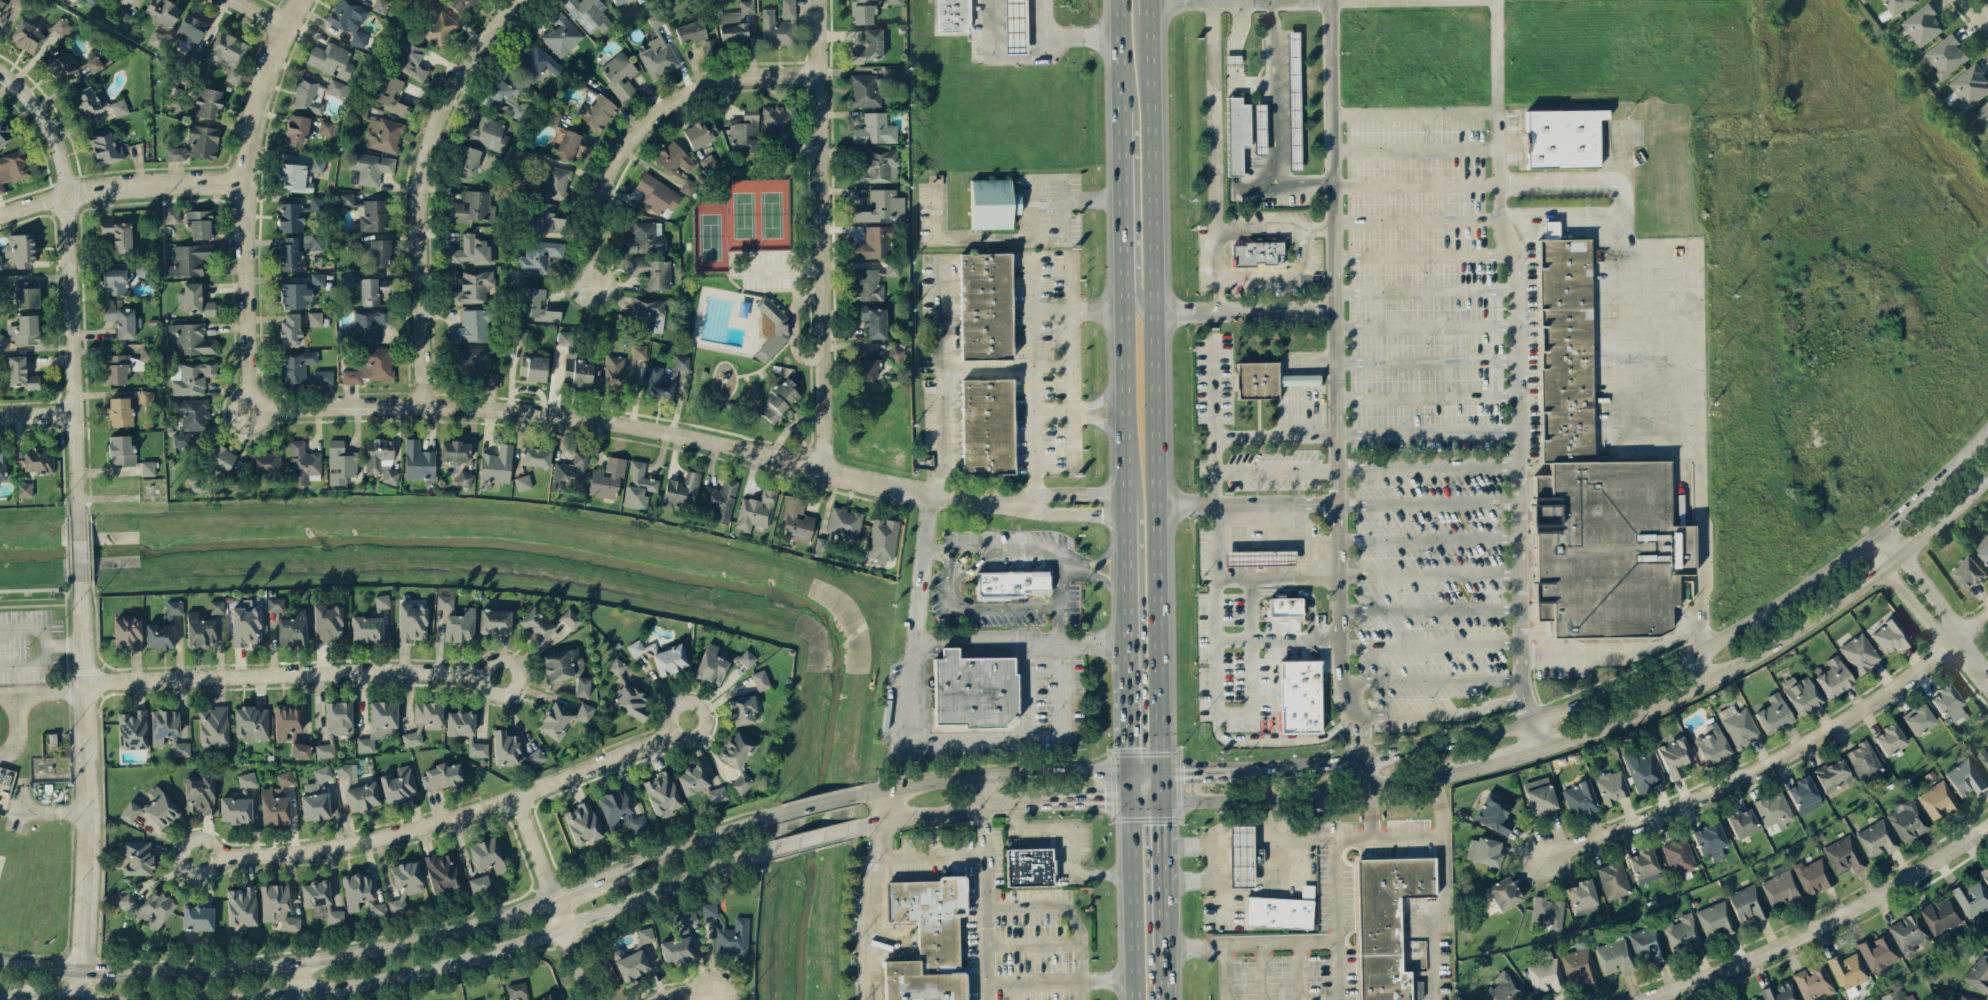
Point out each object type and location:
building: (639, 0)
road: (1180, 0)
building: (92, 1)
building: (126, 1)
building: (616, 1)
building: (380, 5)
building: (461, 5)
road: (1148, 5)
building: (1897, 5)
building: (7, 8)
building: (788, 8)
building: (162, 10)
road: (267, 11)
road: (1976, 12)
building: (588, 13)
building: (952, 16)
building: (351, 19)
building: (656, 19)
road: (1043, 20)
building: (1922, 24)
building: (735, 25)
building: (60, 26)
building: (1015, 26)
road: (1238, 27)
building: (438, 28)
building: (776, 28)
building: (189, 31)
building: (690, 31)
building: (561, 32)
building: (26, 36)
building: (870, 46)
road: (1030, 49)
building: (228, 54)
building: (1946, 55)
building: (658, 56)
building: (409, 57)
building: (331, 59)
road: (1232, 59)
building: (94, 63)
building: (60, 64)
building: (539, 64)
building: (619, 75)
road: (1232, 80)
building: (1969, 86)
building: (339, 88)
building: (867, 88)
road: (1274, 91)
building: (387, 92)
building: (508, 92)
building: (309, 96)
building: (86, 100)
building: (1293, 100)
building: (207, 102)
building: (117, 106)
building: (597, 112)
road: (1416, 112)
building: (1983, 114)
building: (553, 117)
road: (646, 121)
building: (780, 126)
building: (328, 128)
building: (1259, 128)
building: (875, 129)
building: (296, 130)
building: (745, 131)
building: (701, 132)
building: (1236, 132)
building: (4, 133)
building: (486, 134)
building: (384, 135)
road: (1233, 135)
building: (1563, 136)
building: (203, 140)
building: (571, 145)
building: (105, 147)
road: (1416, 149)
building: (175, 153)
road: (1214, 155)
building: (674, 157)
building: (465, 161)
building: (878, 165)
building: (12, 167)
building: (370, 167)
building: (299, 174)
road: (1233, 179)
road: (1284, 181)
building: (554, 182)
road: (1417, 183)
building: (688, 186)
road: (1561, 187)
road: (122, 189)
road: (425, 189)
building: (657, 193)
road: (1137, 193)
building: (347, 199)
road: (249, 200)
building: (993, 202)
building: (470, 206)
building: (882, 206)
road: (1559, 211)
building: (171, 214)
building: (374, 215)
building: (291, 216)
building: (547, 217)
road: (1418, 219)
building: (199, 224)
road: (1321, 226)
road: (1032, 227)
road: (1261, 228)
building: (117, 234)
road: (818, 235)
building: (645, 238)
building: (874, 242)
building: (19, 249)
road: (1120, 249)
building: (297, 250)
building: (472, 250)
building: (377, 252)
road: (1425, 252)
building: (1257, 253)
building: (538, 255)
building: (189, 259)
building: (0, 261)
building: (892, 268)
building: (142, 270)
building: (652, 271)
road: (1283, 277)
road: (72, 279)
building: (318, 279)
building: (115, 280)
building: (867, 285)
building: (472, 286)
building: (372, 290)
road: (1427, 290)
building: (26, 294)
building: (295, 295)
building: (194, 300)
road: (1072, 304)
building: (537, 305)
building: (985, 305)
road: (1053, 307)
road: (1244, 310)
building: (315, 318)
building: (871, 319)
road: (1427, 324)
building: (367, 326)
building: (471, 326)
building: (289, 328)
building: (22, 331)
road: (1034, 333)
building: (779, 334)
building: (517, 337)
building: (189, 338)
building: (639, 351)
building: (896, 351)
building: (146, 353)
building: (472, 359)
road: (1315, 359)
building: (682, 361)
road: (1427, 362)
building: (868, 363)
building: (296, 365)
road: (1008, 365)
building: (371, 366)
building: (533, 367)
building: (117, 368)
building: (617, 371)
building: (577, 372)
building: (21, 373)
road: (1517, 374)
building: (323, 376)
road: (1300, 378)
building: (489, 379)
building: (1256, 379)
building: (1293, 379)
road: (941, 380)
road: (1338, 381)
building: (659, 383)
road: (1152, 391)
road: (1697, 391)
road: (1626, 392)
road: (1428, 395)
building: (781, 399)
road: (1301, 409)
road: (38, 411)
building: (119, 411)
road: (1057, 411)
road: (1099, 411)
building: (191, 417)
road: (1214, 421)
building: (987, 425)
road: (623, 427)
road: (1428, 431)
road: (1276, 433)
building: (121, 449)
building: (454, 451)
building: (536, 456)
road: (1969, 457)
building: (221, 458)
building: (381, 459)
building: (38, 460)
building: (419, 461)
road: (63, 462)
building: (303, 462)
building: (340, 462)
building: (265, 464)
building: (2, 465)
building: (496, 465)
road: (1429, 466)
building: (148, 468)
road: (1277, 468)
building: (571, 472)
building: (464, 477)
building: (607, 477)
building: (523, 482)
building: (638, 485)
building: (24, 489)
building: (681, 489)
road: (1057, 495)
building: (719, 500)
road: (1246, 503)
road: (1429, 505)
road: (1918, 506)
building: (755, 510)
road: (1057, 513)
building: (796, 520)
building: (844, 525)
road: (1430, 536)
building: (883, 539)
road: (1878, 540)
building: (819, 545)
road: (1005, 545)
building: (1983, 547)
road: (78, 549)
road: (69, 550)
building: (1614, 550)
building: (1259, 557)
river: (615, 561)
road: (1082, 565)
road: (1430, 571)
road: (1278, 573)
building: (1969, 573)
road: (1125, 580)
building: (1013, 584)
road: (1925, 584)
road: (33, 587)
road: (1061, 596)
road: (1910, 596)
building: (382, 601)
building: (445, 601)
building: (275, 603)
building: (216, 606)
building: (1285, 606)
road: (971, 608)
building: (172, 610)
road: (1431, 610)
building: (570, 618)
building: (495, 620)
building: (412, 621)
building: (328, 623)
building: (536, 624)
building: (461, 625)
road: (30, 627)
building: (292, 628)
building: (367, 628)
building: (200, 630)
building: (128, 632)
building: (159, 635)
building: (1890, 635)
road: (1277, 637)
road: (67, 638)
road: (914, 640)
road: (1020, 641)
road: (1783, 642)
road: (61, 645)
road: (1431, 646)
building: (636, 647)
road: (1611, 652)
building: (1859, 653)
building: (747, 657)
building: (670, 659)
road: (1972, 659)
building: (562, 663)
road: (31, 665)
building: (711, 665)
building: (617, 666)
road: (1706, 666)
road: (288, 673)
building: (1833, 677)
road: (1433, 678)
building: (760, 679)
building: (582, 687)
road: (1028, 688)
building: (973, 690)
road: (1216, 693)
building: (1801, 694)
road: (48, 695)
building: (1298, 695)
road: (1593, 700)
building: (631, 701)
building: (1947, 702)
building: (742, 709)
building: (1773, 713)
building: (429, 714)
building: (582, 714)
road: (1442, 714)
building: (339, 716)
road: (1128, 716)
building: (1918, 719)
building: (287, 720)
building: (555, 720)
road: (14, 722)
building: (461, 722)
building: (250, 723)
building: (380, 723)
building: (163, 724)
building: (213, 726)
building: (1740, 727)
building: (132, 729)
road: (1026, 735)
building: (412, 738)
road: (1279, 738)
building: (1889, 739)
building: (1711, 743)
building: (181, 748)
traffic signals: (1129, 748)
building: (300, 749)
building: (478, 749)
building: (324, 750)
building: (1674, 756)
building: (533, 757)
road: (1513, 757)
building: (1984, 757)
road: (1776, 758)
building: (1863, 760)
road: (1222, 768)
traffic signals: (1182, 769)
building: (1641, 769)
road: (1144, 770)
road: (1368, 774)
road: (85, 775)
building: (442, 775)
road: (990, 775)
building: (1832, 775)
building: (1966, 777)
building: (693, 778)
building: (247, 779)
building: (399, 784)
road: (1129, 785)
road: (1159, 785)
building: (1611, 785)
road: (1385, 788)
building: (358, 789)
road: (981, 792)
building: (199, 793)
building: (662, 793)
building: (717, 794)
building: (316, 795)
building: (1539, 795)
building: (1803, 795)
building: (1579, 798)
building: (1938, 799)
building: (277, 800)
road: (1145, 800)
road: (1224, 800)
road: (1089, 801)
traffic signals: (1106, 801)
road: (889, 803)
road: (815, 804)
building: (160, 808)
road: (54, 809)
building: (235, 810)
building: (1773, 810)
building: (129, 811)
road: (946, 811)
building: (620, 812)
building: (1493, 814)
road: (1373, 816)
road: (449, 817)
building: (1907, 820)
building: (1742, 822)
building: (582, 823)
traffic signals: (1161, 824)
building: (1876, 838)
road: (810, 839)
road: (1073, 839)
road: (702, 840)
building: (1710, 840)
road: (1239, 841)
road: (1261, 841)
road: (1304, 843)
road: (1218, 847)
road: (530, 848)
road: (1161, 850)
building: (1483, 850)
building: (1843, 854)
building: (486, 855)
building: (1239, 856)
building: (136, 857)
road: (930, 857)
building: (1678, 857)
building: (1643, 865)
building: (1028, 866)
building: (442, 872)
building: (1984, 872)
building: (1813, 875)
building: (1613, 879)
building: (479, 883)
road: (590, 883)
building: (1781, 888)
building: (356, 889)
road: (1249, 890)
building: (1503, 893)
road: (1337, 894)
building: (1582, 897)
building: (1971, 897)
road: (1132, 899)
building: (321, 900)
building: (1747, 903)
road: (984, 904)
building: (242, 906)
building: (277, 906)
building: (149, 907)
building: (709, 909)
road: (873, 910)
building: (1546, 911)
building: (378, 912)
road: (1070, 912)
building: (1278, 912)
building: (1940, 916)
building: (197, 917)
building: (1716, 917)
building: (1386, 921)
road: (1443, 923)
road: (1818, 926)
building: (1682, 932)
building: (1908, 933)
road: (539, 934)
building: (645, 934)
building: (732, 938)
building: (926, 938)
building: (680, 940)
building: (1647, 942)
road: (1034, 943)
road: (569, 949)
road: (1163, 950)
building: (1878, 953)
building: (1614, 956)
road: (319, 958)
road: (39, 963)
building: (632, 964)
building: (1579, 965)
road: (1340, 969)
road: (1262, 970)
road: (1299, 970)
building: (1847, 970)
road: (1228, 971)
building: (1545, 974)
building: (1978, 974)
road: (296, 981)
road: (1061, 981)
building: (1813, 981)
road: (77, 983)
building: (1503, 988)
building: (518, 990)
building: (1780, 992)
road: (681, 994)
building: (1892, 995)
building: (1967, 997)
road: (4, 998)
building: (548, 998)
building: (1739, 998)
road: (10, 999)
building: (479, 999)
building: (1757, 999)

